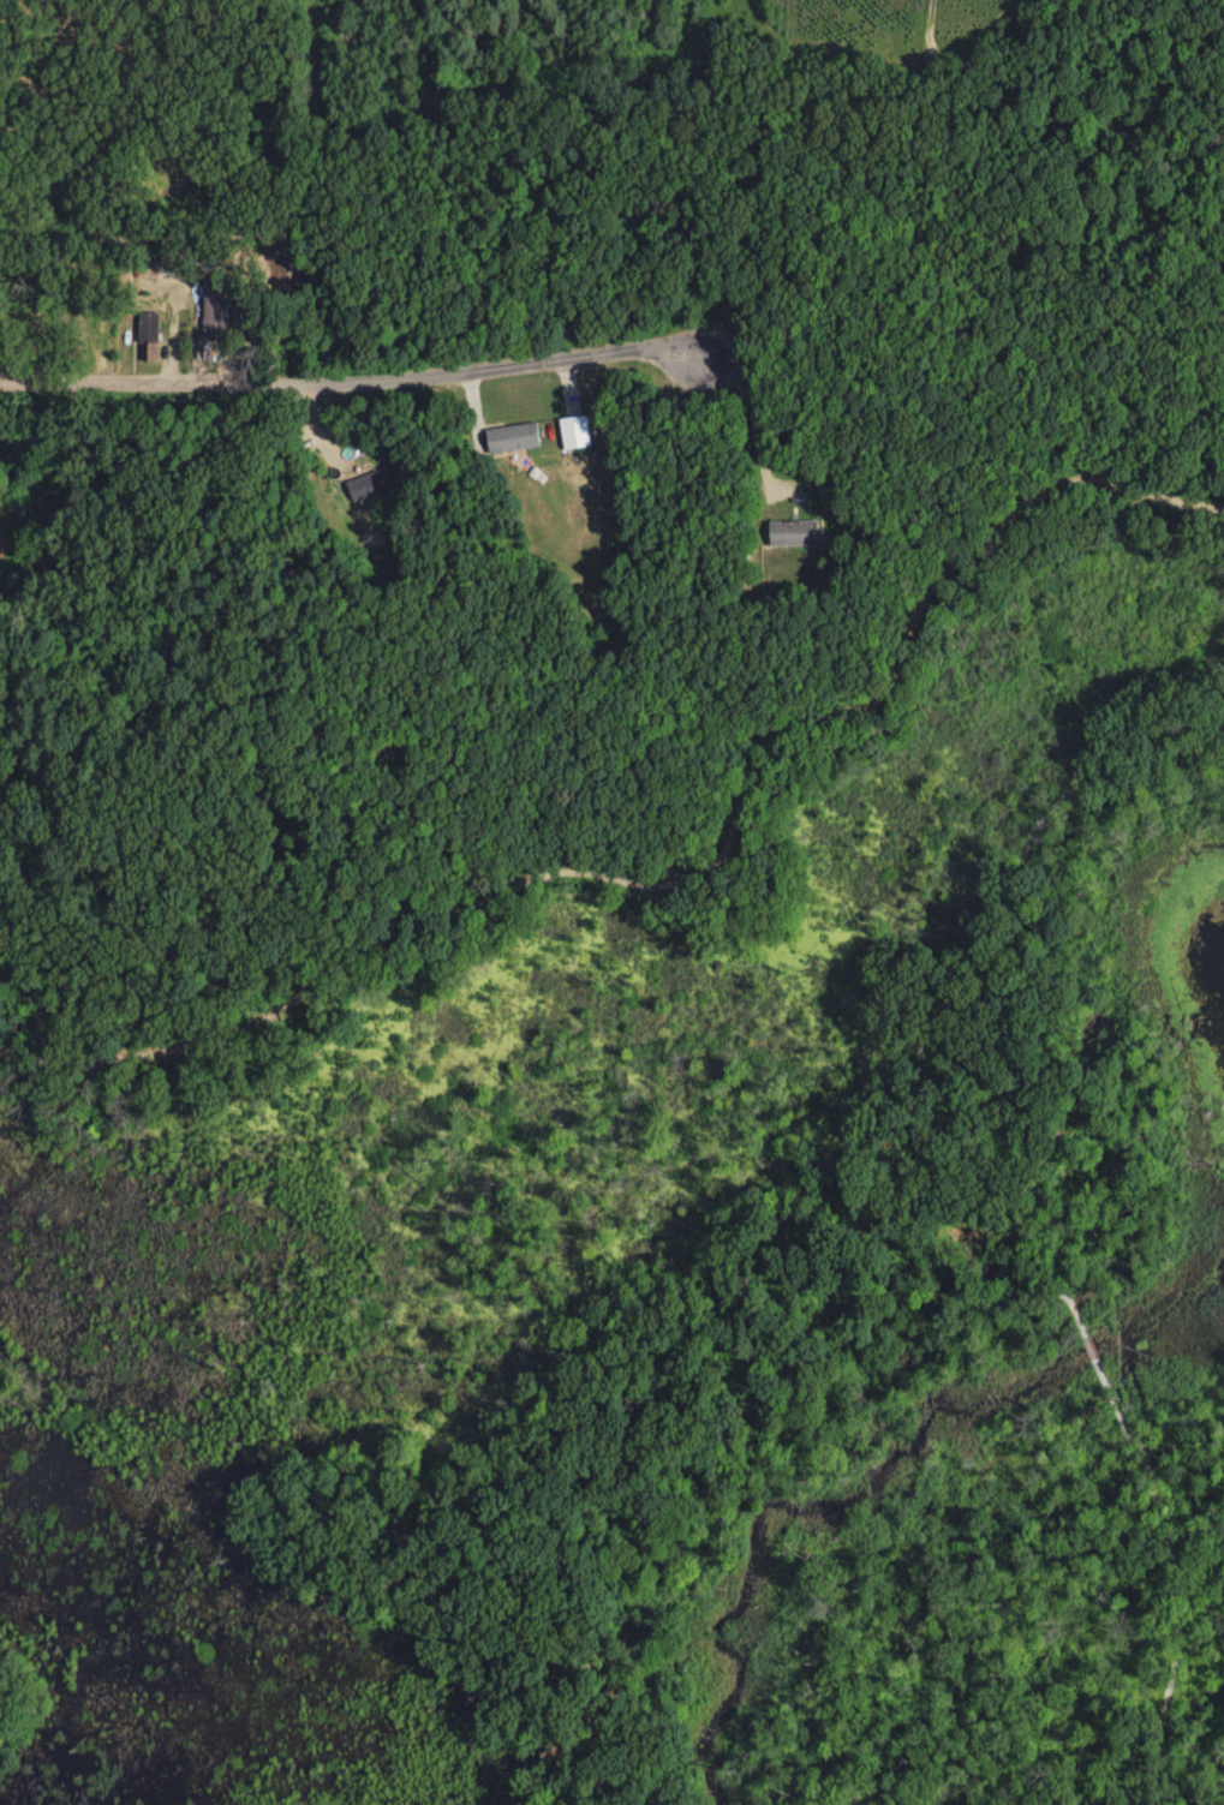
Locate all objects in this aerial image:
road: (924, 32)
road: (567, 74)
building: (216, 306)
building: (148, 335)
road: (459, 371)
road: (107, 382)
road: (752, 416)
building: (575, 430)
building: (513, 436)
building: (368, 484)
building: (794, 531)
road: (681, 869)
park: (668, 1207)
road: (746, 1323)
road: (1136, 1446)
road: (1166, 1759)

